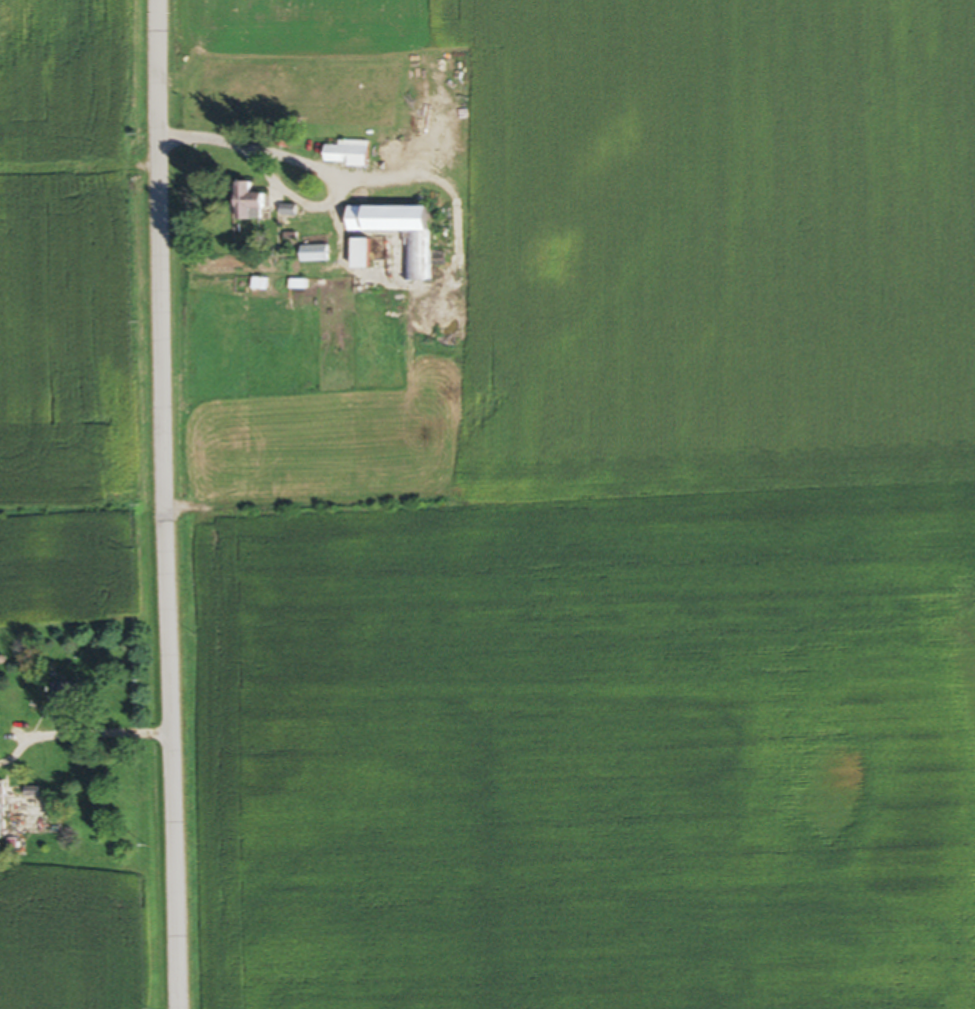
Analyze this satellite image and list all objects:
building: (353, 156)
road: (428, 174)
road: (301, 203)
building: (256, 206)
building: (292, 213)
building: (395, 222)
building: (317, 256)
building: (365, 257)
road: (169, 504)
road: (101, 724)
building: (4, 816)

